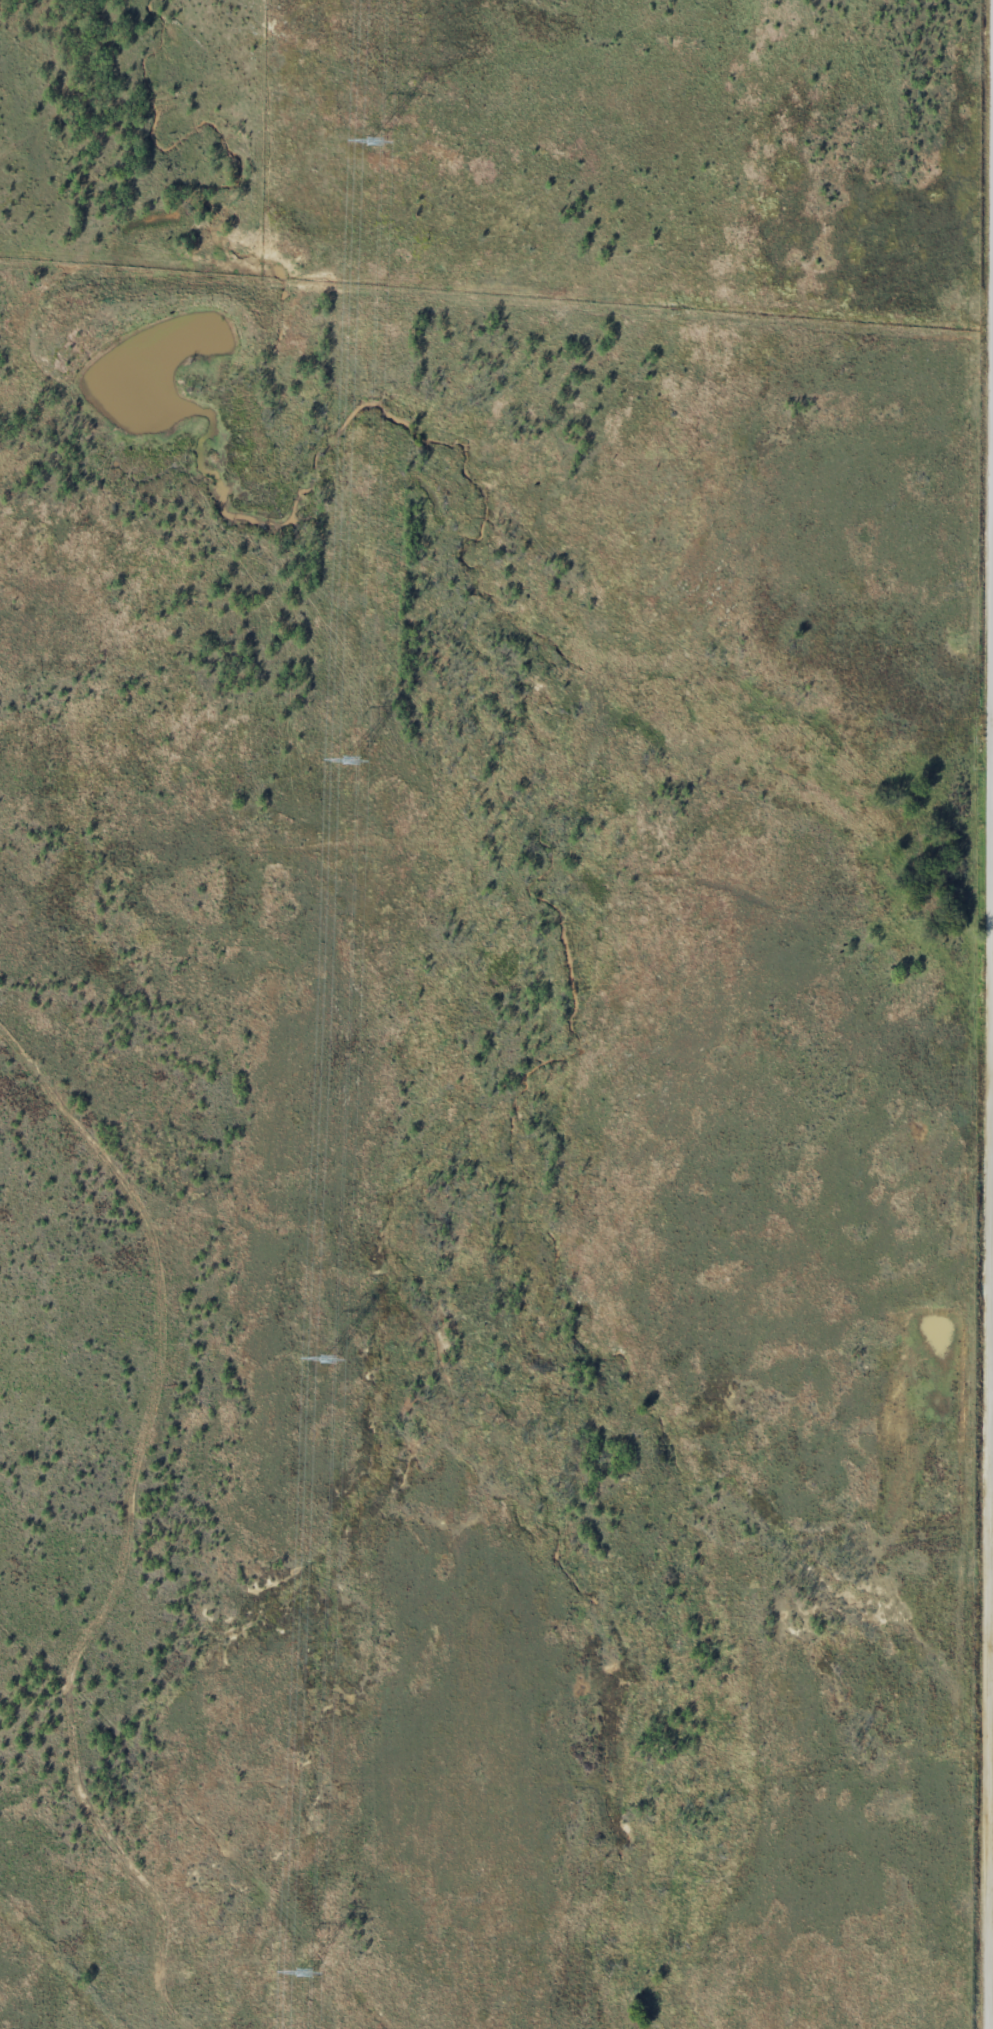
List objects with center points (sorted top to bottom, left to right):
power tower: (374, 141)
power tower: (349, 757)
power tower: (327, 1358)
road: (192, 1836)
power tower: (301, 1970)

